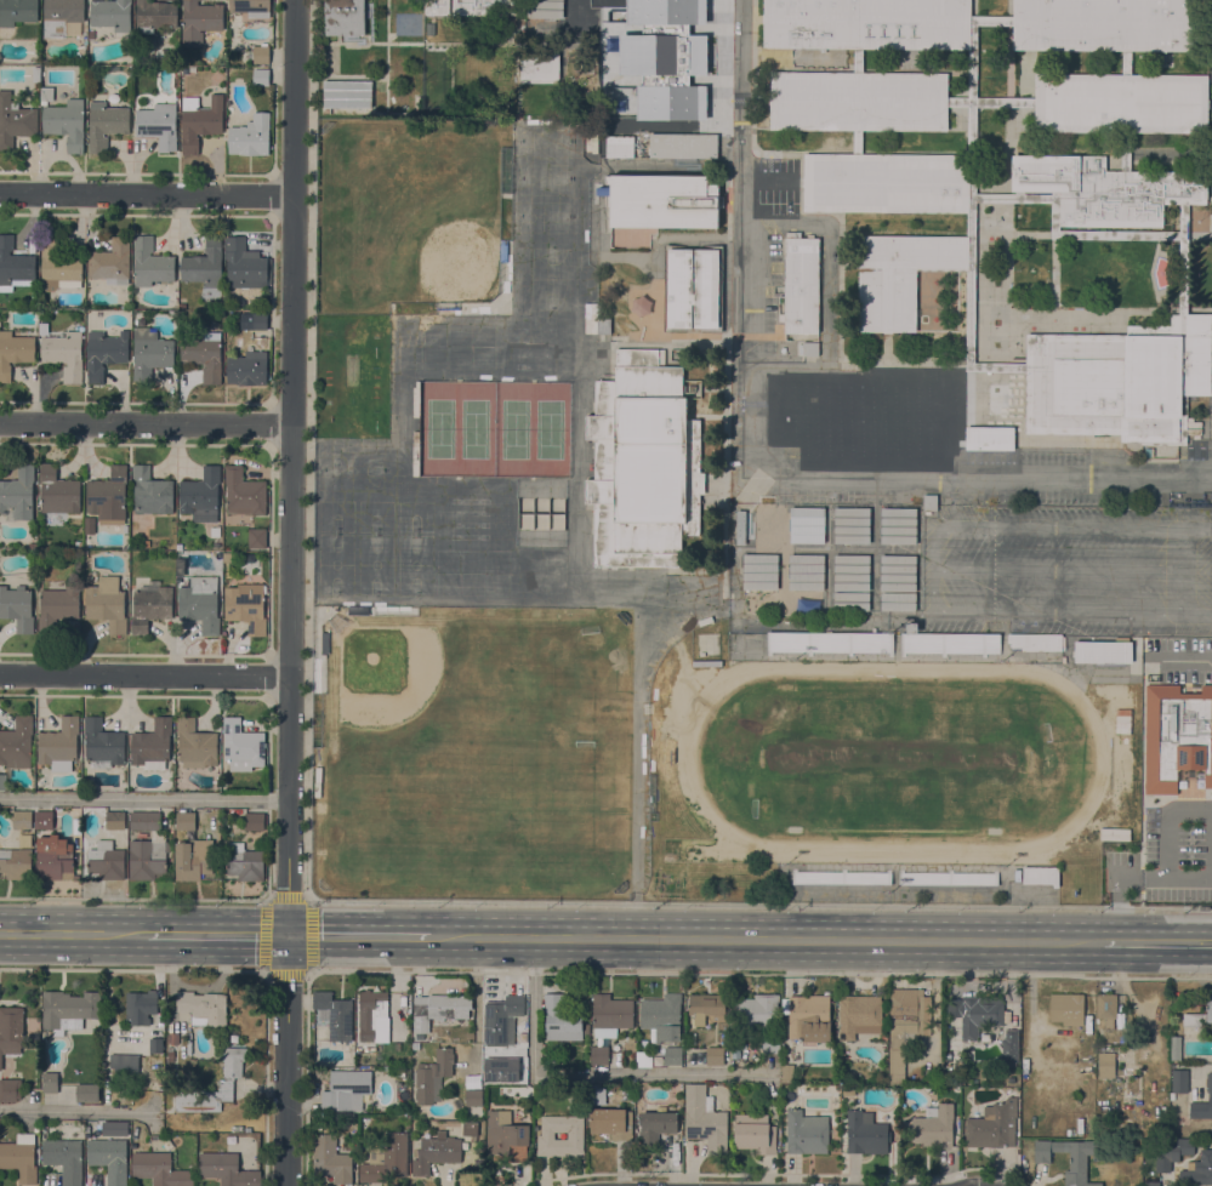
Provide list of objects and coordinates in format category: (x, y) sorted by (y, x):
building: (251, 7)
building: (437, 7)
building: (485, 7)
building: (545, 8)
building: (665, 11)
building: (17, 12)
building: (110, 13)
building: (61, 16)
building: (154, 16)
building: (343, 17)
building: (199, 21)
road: (977, 22)
building: (865, 24)
building: (1103, 24)
building: (512, 25)
building: (91, 34)
building: (661, 36)
building: (81, 38)
building: (699, 38)
building: (261, 53)
building: (858, 61)
building: (1125, 63)
building: (540, 68)
building: (36, 74)
building: (261, 78)
building: (675, 84)
building: (712, 85)
building: (46, 93)
building: (347, 93)
road: (1125, 97)
building: (858, 102)
road: (990, 102)
building: (631, 109)
building: (15, 121)
building: (200, 121)
building: (66, 122)
building: (106, 125)
building: (158, 126)
building: (584, 135)
building: (250, 136)
building: (855, 142)
building: (683, 146)
building: (619, 147)
building: (1125, 150)
building: (571, 153)
road: (857, 156)
road: (1211, 170)
building: (1104, 189)
road: (147, 193)
building: (662, 201)
road: (972, 213)
road: (1054, 213)
building: (1083, 230)
road: (1079, 234)
road: (1199, 235)
road: (1183, 257)
building: (15, 262)
building: (110, 262)
building: (150, 263)
building: (204, 264)
building: (244, 264)
building: (58, 266)
building: (801, 284)
building: (693, 289)
road: (1091, 312)
building: (257, 320)
building: (42, 324)
building: (603, 326)
building: (809, 349)
building: (15, 353)
building: (64, 353)
building: (104, 353)
building: (150, 353)
building: (204, 355)
road: (998, 367)
building: (247, 369)
building: (692, 387)
road: (146, 423)
park: (494, 429)
building: (989, 439)
building: (823, 446)
building: (872, 461)
building: (643, 463)
road: (753, 463)
building: (58, 491)
building: (149, 491)
building: (244, 492)
building: (108, 494)
building: (18, 495)
building: (200, 496)
building: (929, 502)
building: (807, 525)
building: (852, 525)
building: (898, 525)
building: (740, 526)
building: (215, 532)
road: (937, 534)
building: (257, 538)
building: (30, 546)
road: (1178, 569)
building: (807, 571)
building: (761, 572)
building: (852, 572)
building: (898, 574)
road: (290, 592)
building: (852, 600)
building: (898, 601)
building: (107, 604)
building: (200, 604)
building: (246, 606)
building: (17, 608)
building: (57, 608)
building: (150, 608)
road: (1037, 610)
road: (1195, 612)
building: (911, 628)
building: (829, 642)
building: (1034, 642)
building: (950, 643)
building: (1102, 650)
road: (144, 674)
building: (1177, 736)
park: (460, 740)
building: (17, 743)
building: (102, 743)
building: (59, 745)
building: (195, 745)
building: (152, 746)
building: (241, 746)
road: (639, 748)
park: (894, 757)
track: (893, 758)
stadium: (892, 765)
building: (2, 781)
road: (144, 798)
building: (676, 811)
building: (22, 820)
building: (44, 820)
building: (115, 820)
building: (184, 821)
building: (254, 821)
road: (1165, 823)
building: (147, 849)
track: (736, 850)
building: (53, 859)
building: (17, 860)
building: (107, 861)
building: (193, 861)
building: (245, 863)
building: (1017, 876)
building: (1041, 876)
road: (1137, 878)
road: (133, 900)
road: (309, 900)
road: (267, 901)
road: (73, 934)
road: (216, 936)
traffic signals: (288, 937)
road: (357, 937)
road: (764, 941)
road: (1157, 943)
road: (132, 969)
road: (761, 974)
building: (706, 1007)
building: (141, 1008)
building: (68, 1009)
building: (204, 1009)
building: (439, 1009)
building: (1066, 1009)
building: (1106, 1009)
building: (1208, 1009)
building: (370, 1013)
building: (335, 1015)
building: (610, 1015)
building: (859, 1015)
building: (979, 1015)
building: (661, 1017)
building: (903, 1017)
building: (561, 1019)
building: (809, 1019)
building: (501, 1020)
building: (757, 1020)
building: (1191, 1020)
building: (11, 1031)
building: (172, 1038)
building: (155, 1045)
building: (415, 1047)
building: (1009, 1047)
building: (1174, 1048)
building: (170, 1055)
building: (599, 1055)
building: (672, 1056)
building: (715, 1056)
building: (643, 1059)
building: (124, 1064)
building: (1105, 1065)
building: (895, 1066)
building: (494, 1068)
building: (1008, 1071)
building: (400, 1073)
building: (786, 1073)
road: (582, 1074)
building: (432, 1076)
building: (229, 1080)
building: (1179, 1080)
building: (50, 1083)
building: (10, 1090)
building: (346, 1090)
building: (87, 1093)
building: (473, 1097)
building: (1202, 1102)
road: (74, 1111)
building: (704, 1119)
building: (611, 1123)
building: (992, 1125)
building: (655, 1127)
building: (470, 1128)
building: (933, 1128)
building: (755, 1134)
building: (804, 1134)
building: (865, 1134)
building: (545, 1136)
building: (506, 1137)
building: (437, 1152)
building: (1172, 1152)
building: (1069, 1157)
building: (64, 1158)
building: (109, 1158)
building: (19, 1159)
building: (330, 1159)
building: (386, 1159)
building: (160, 1169)
building: (227, 1169)
building: (1197, 1170)
building: (1151, 1182)

